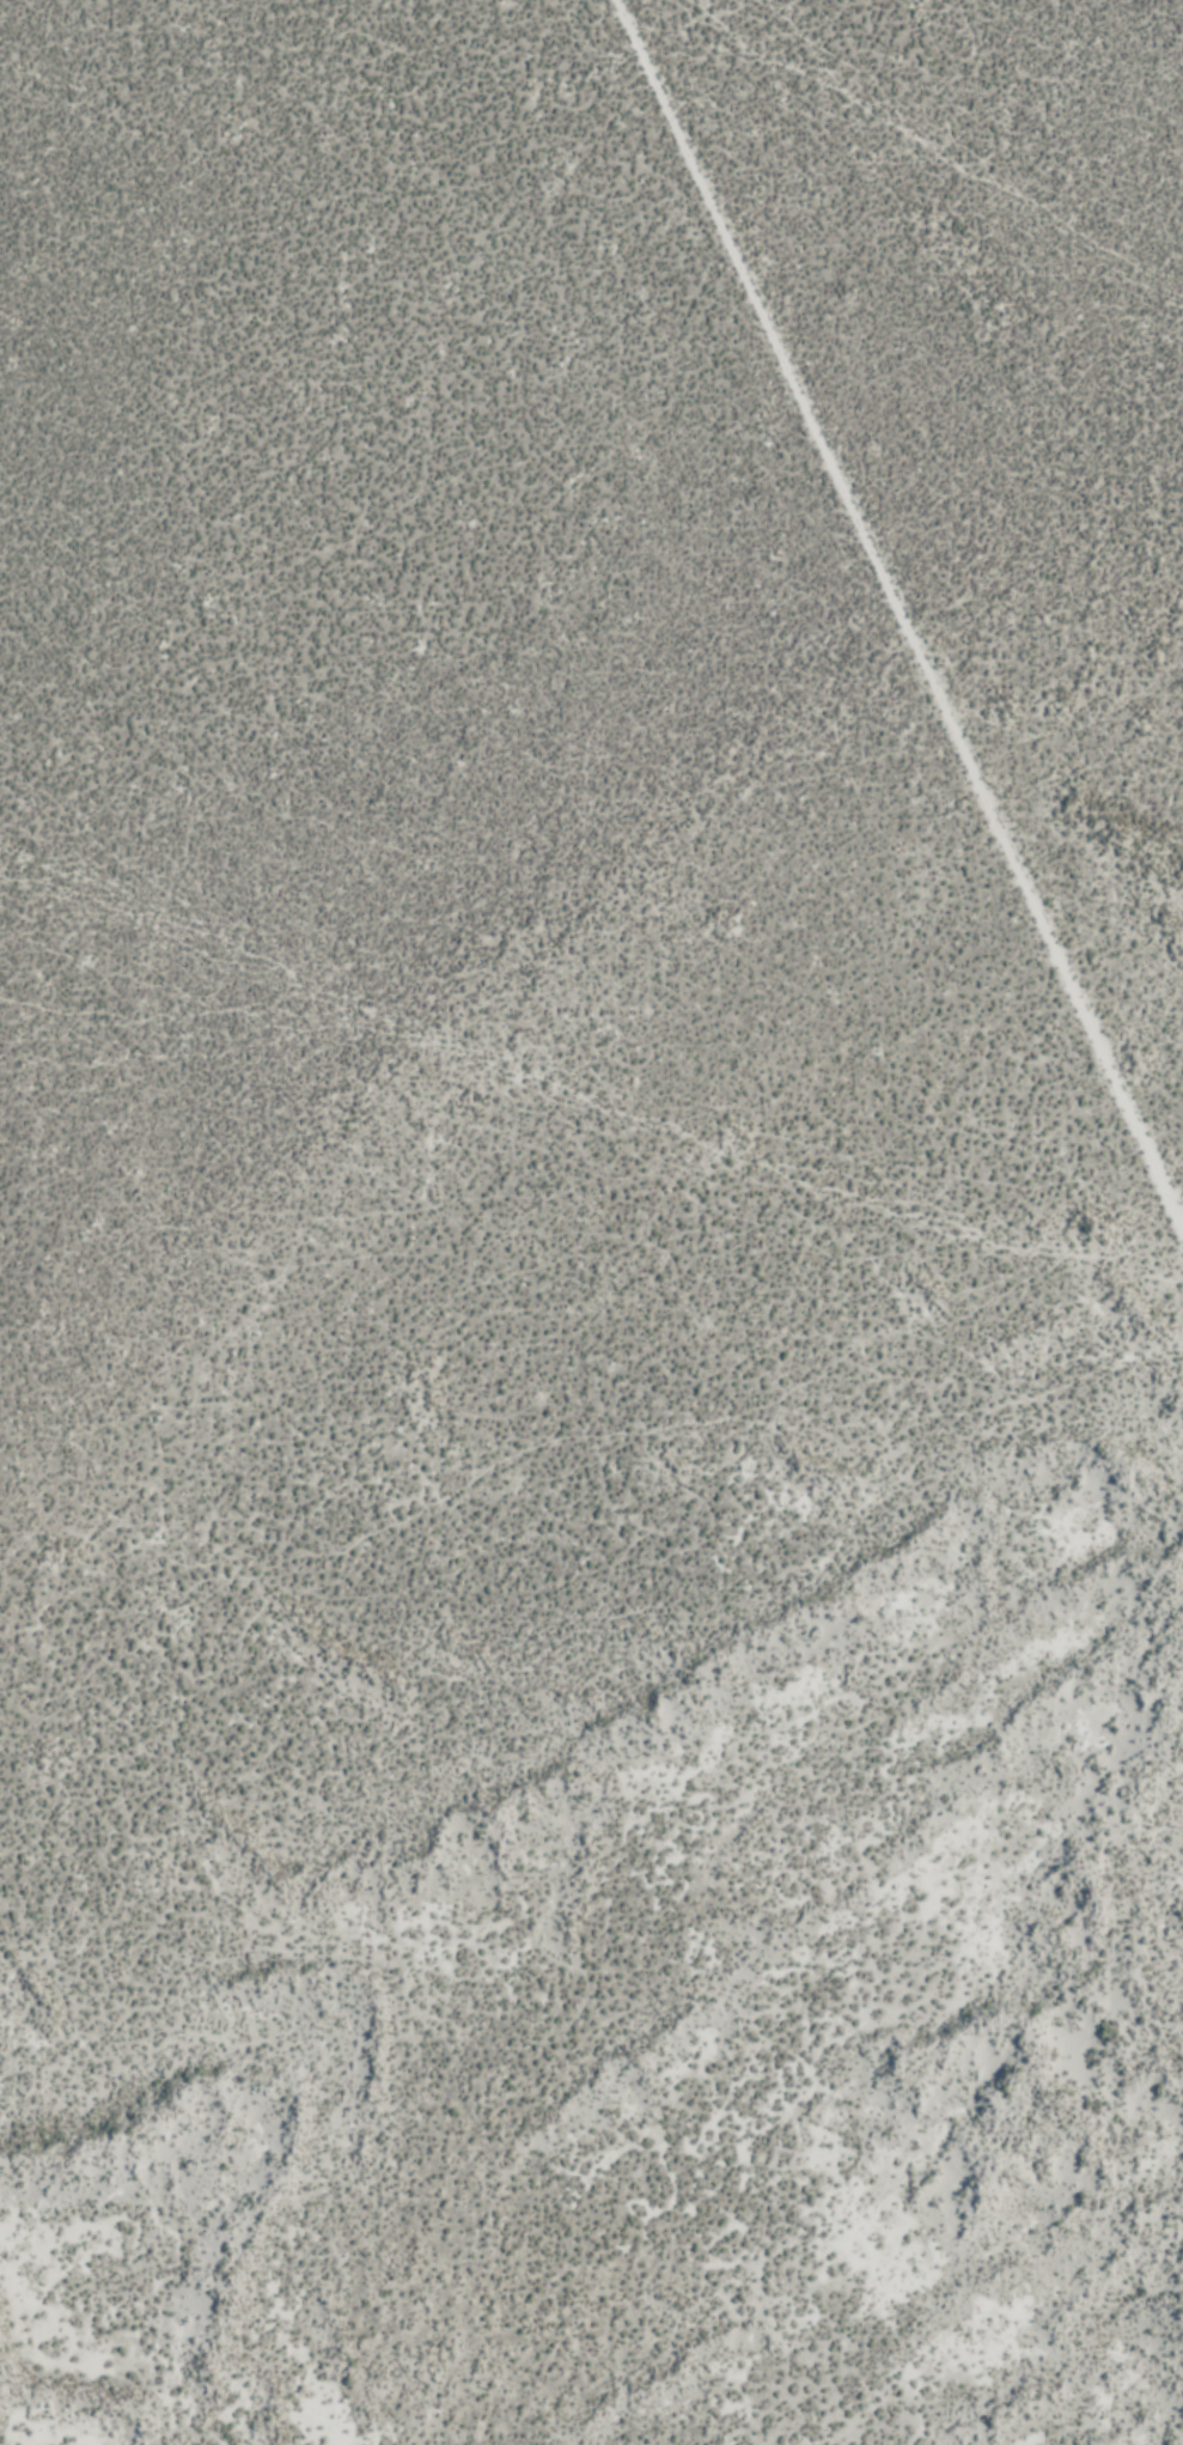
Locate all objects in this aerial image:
road: (901, 612)

